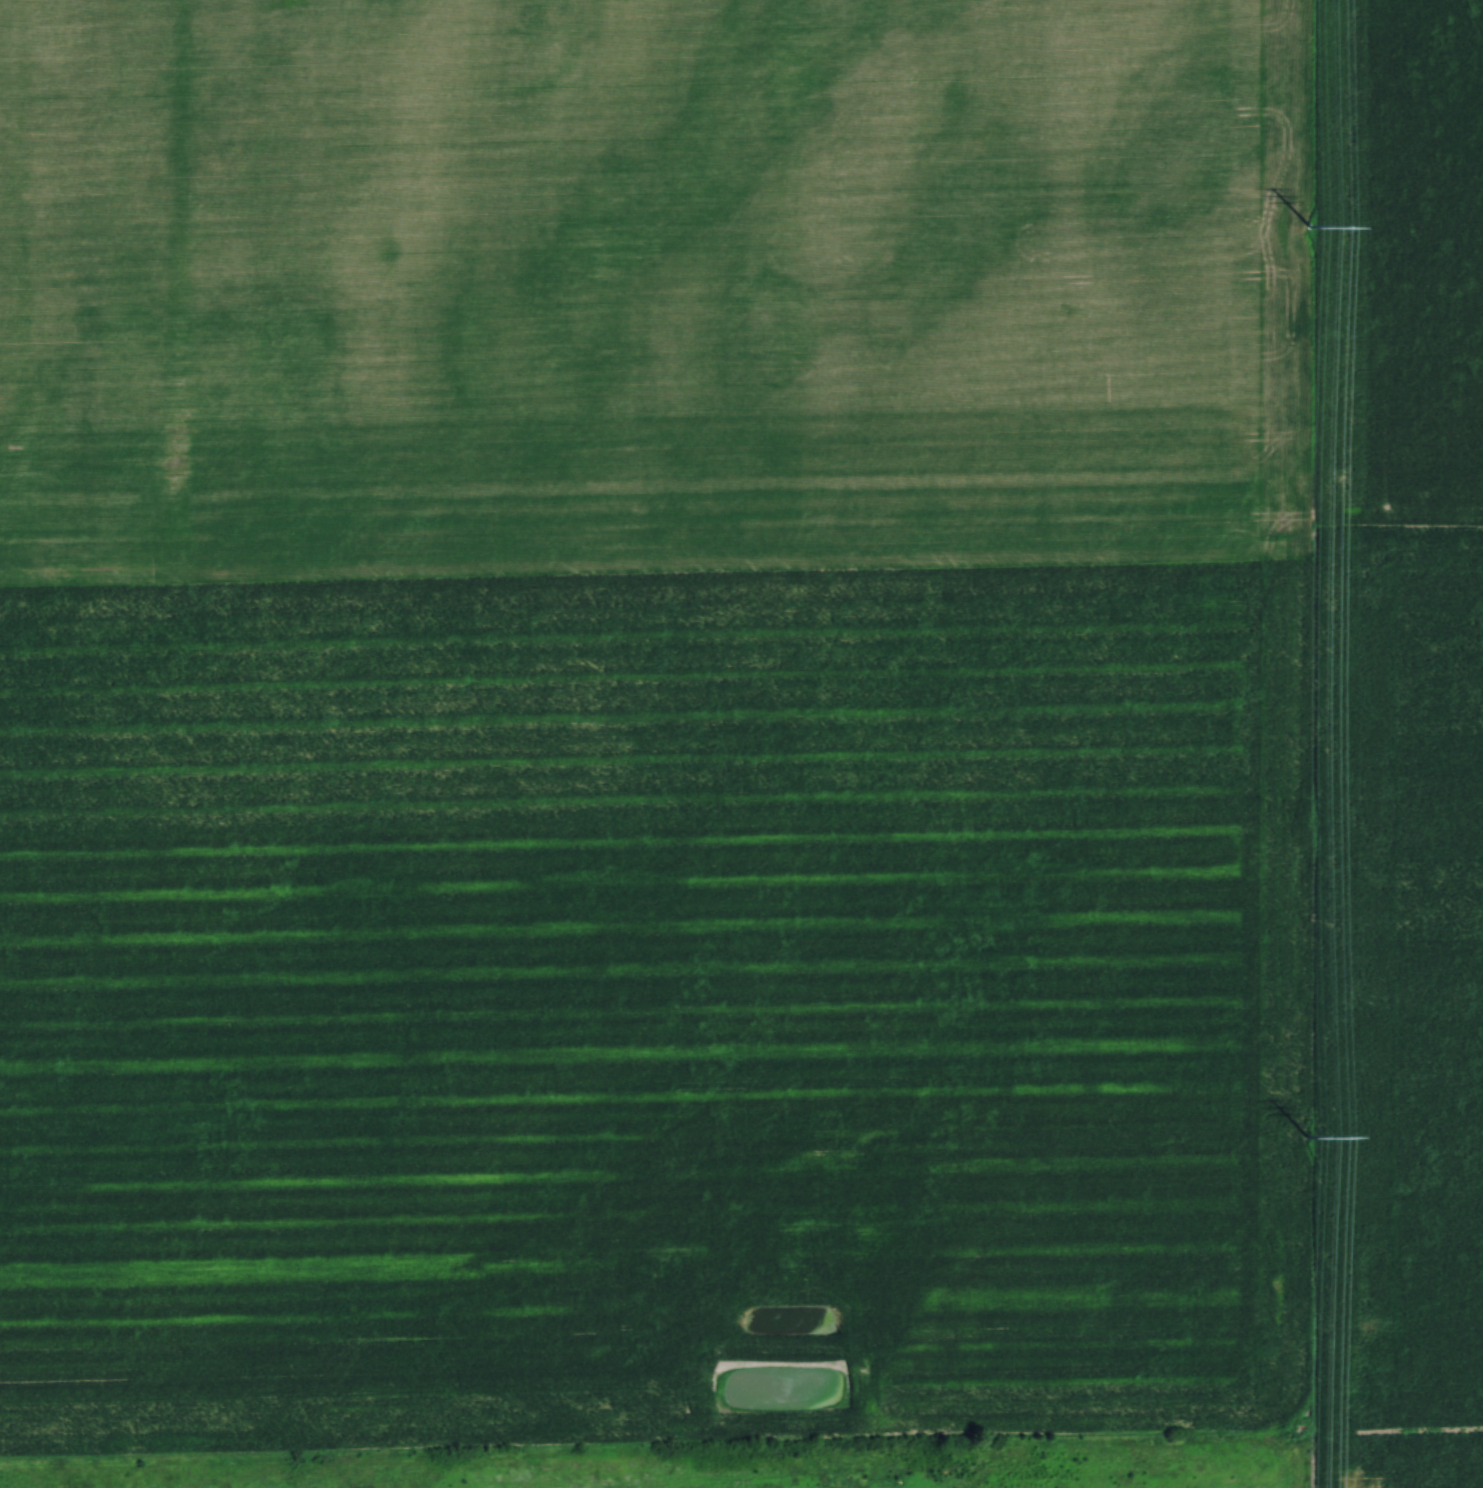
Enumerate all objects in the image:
power tower: (1310, 227)
power tower: (1305, 1136)

